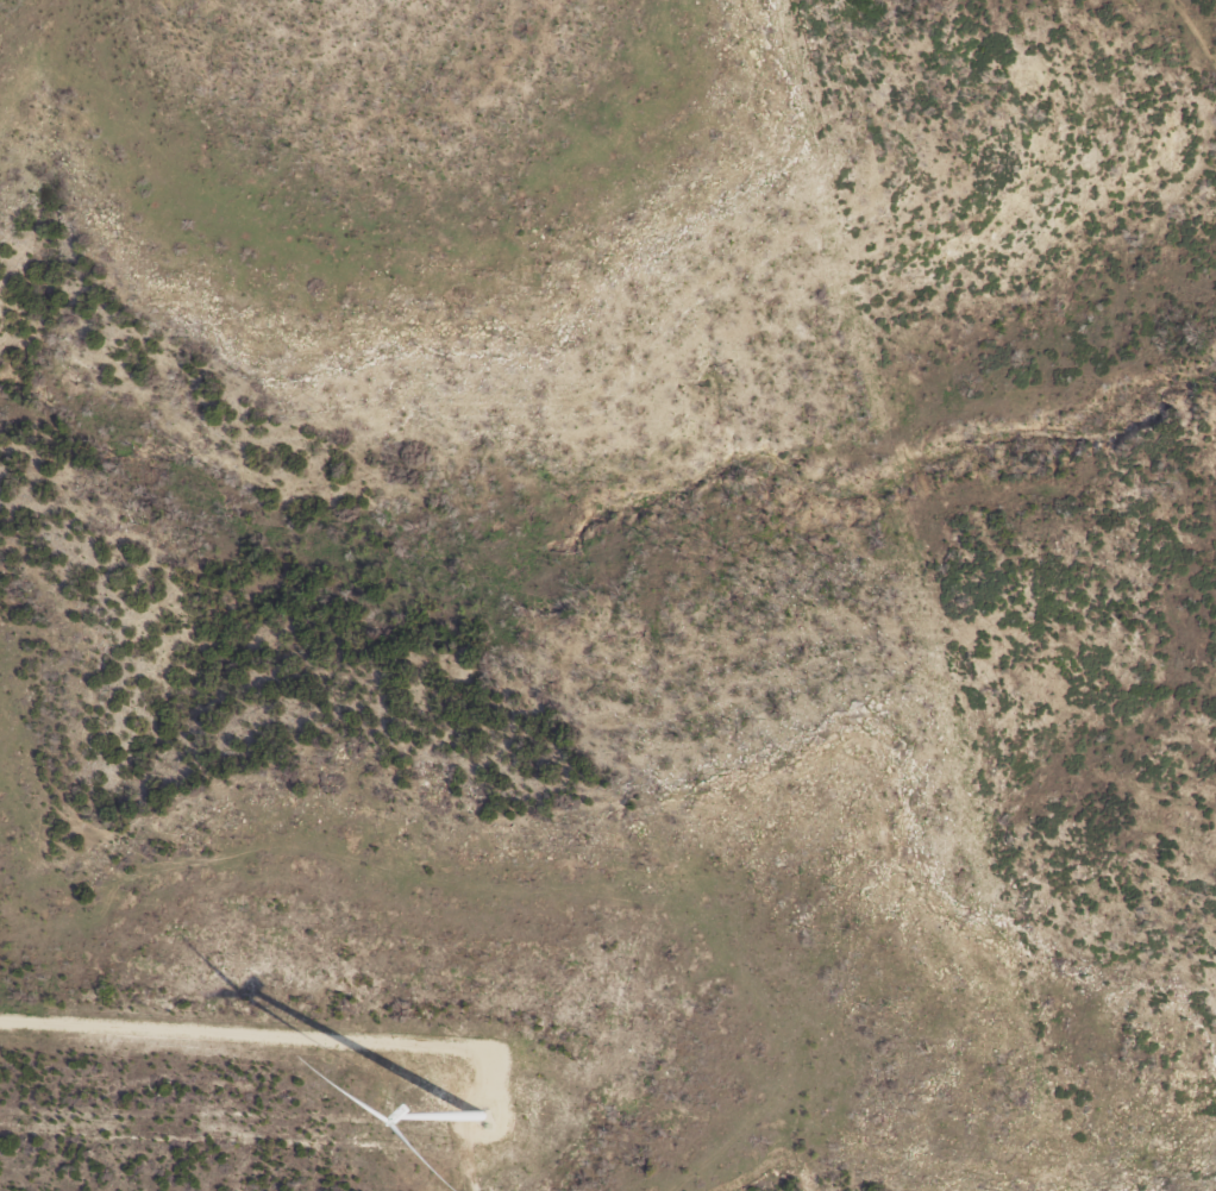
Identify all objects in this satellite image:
wind turbine: (483, 1134)

